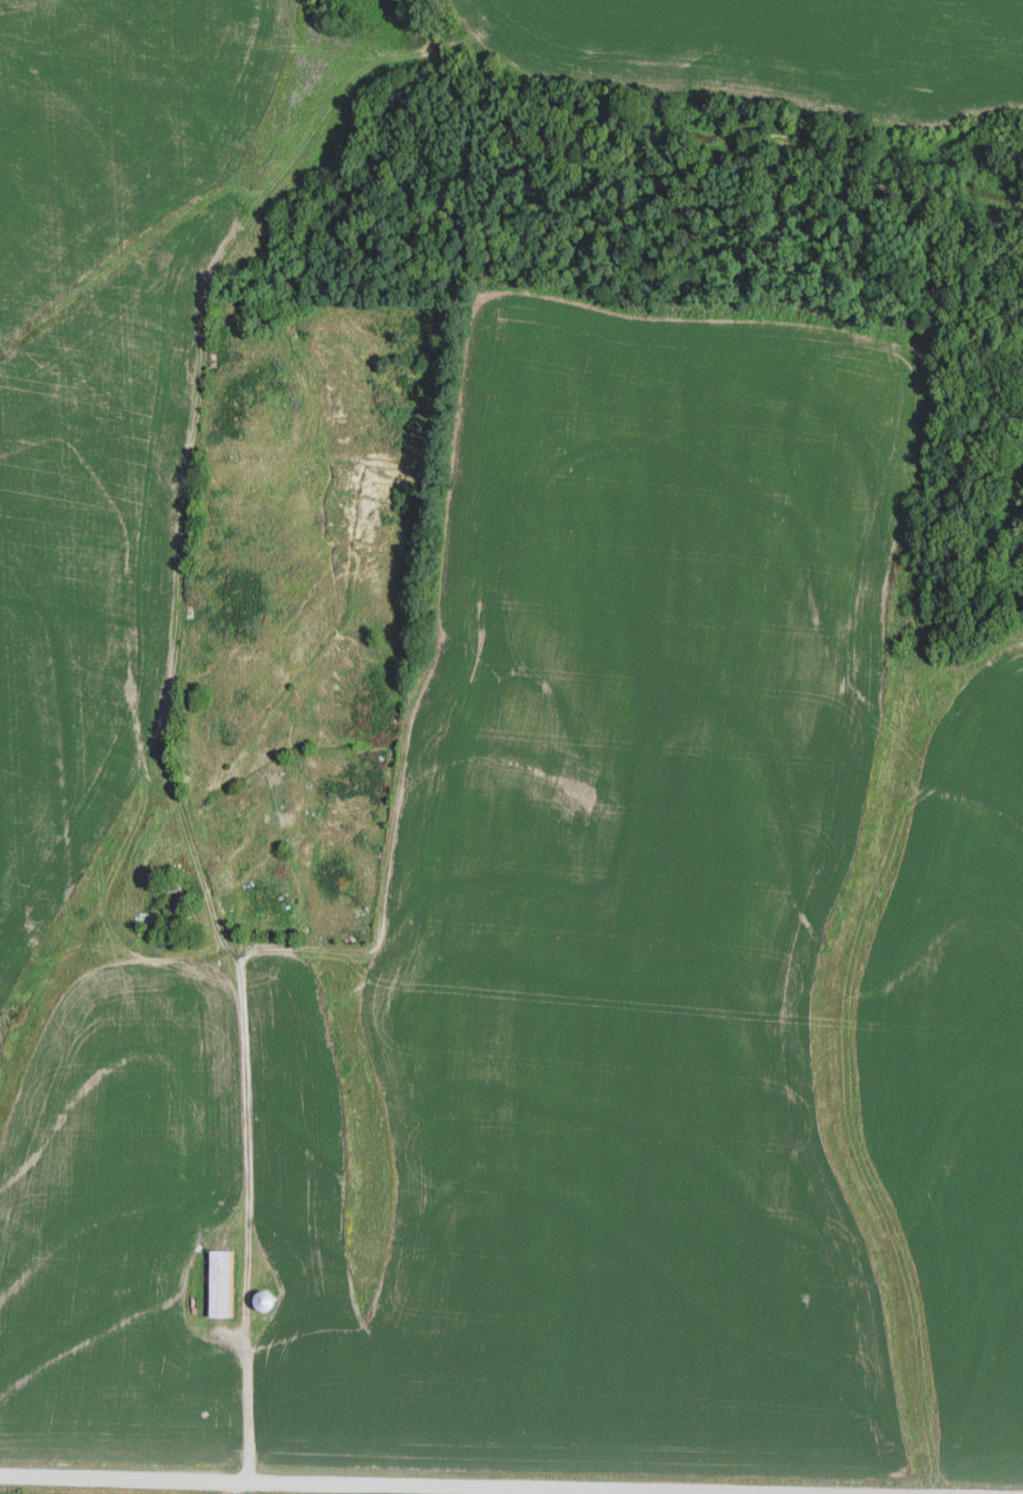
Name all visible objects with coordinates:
road: (249, 1165)
building: (219, 1283)
building: (261, 1300)
road: (461, 1487)

